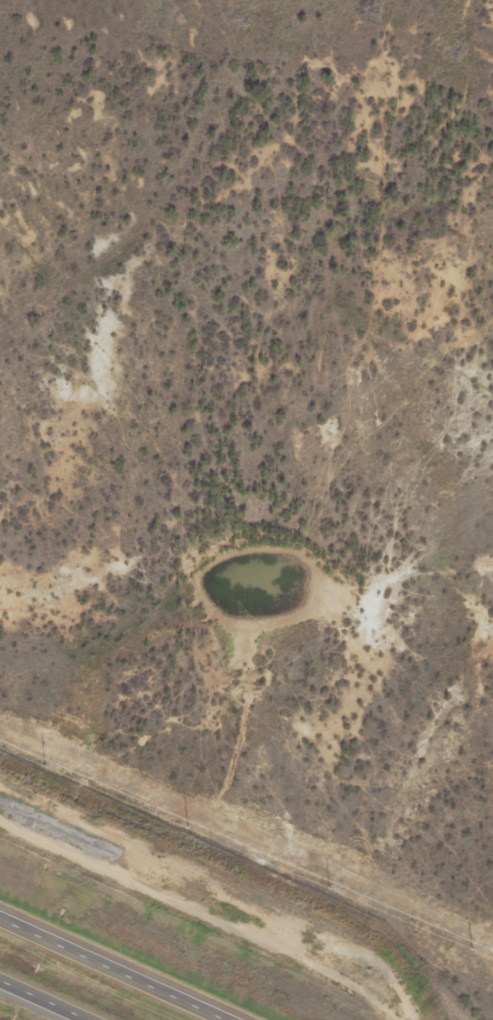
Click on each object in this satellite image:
road: (114, 969)
road: (39, 1001)

